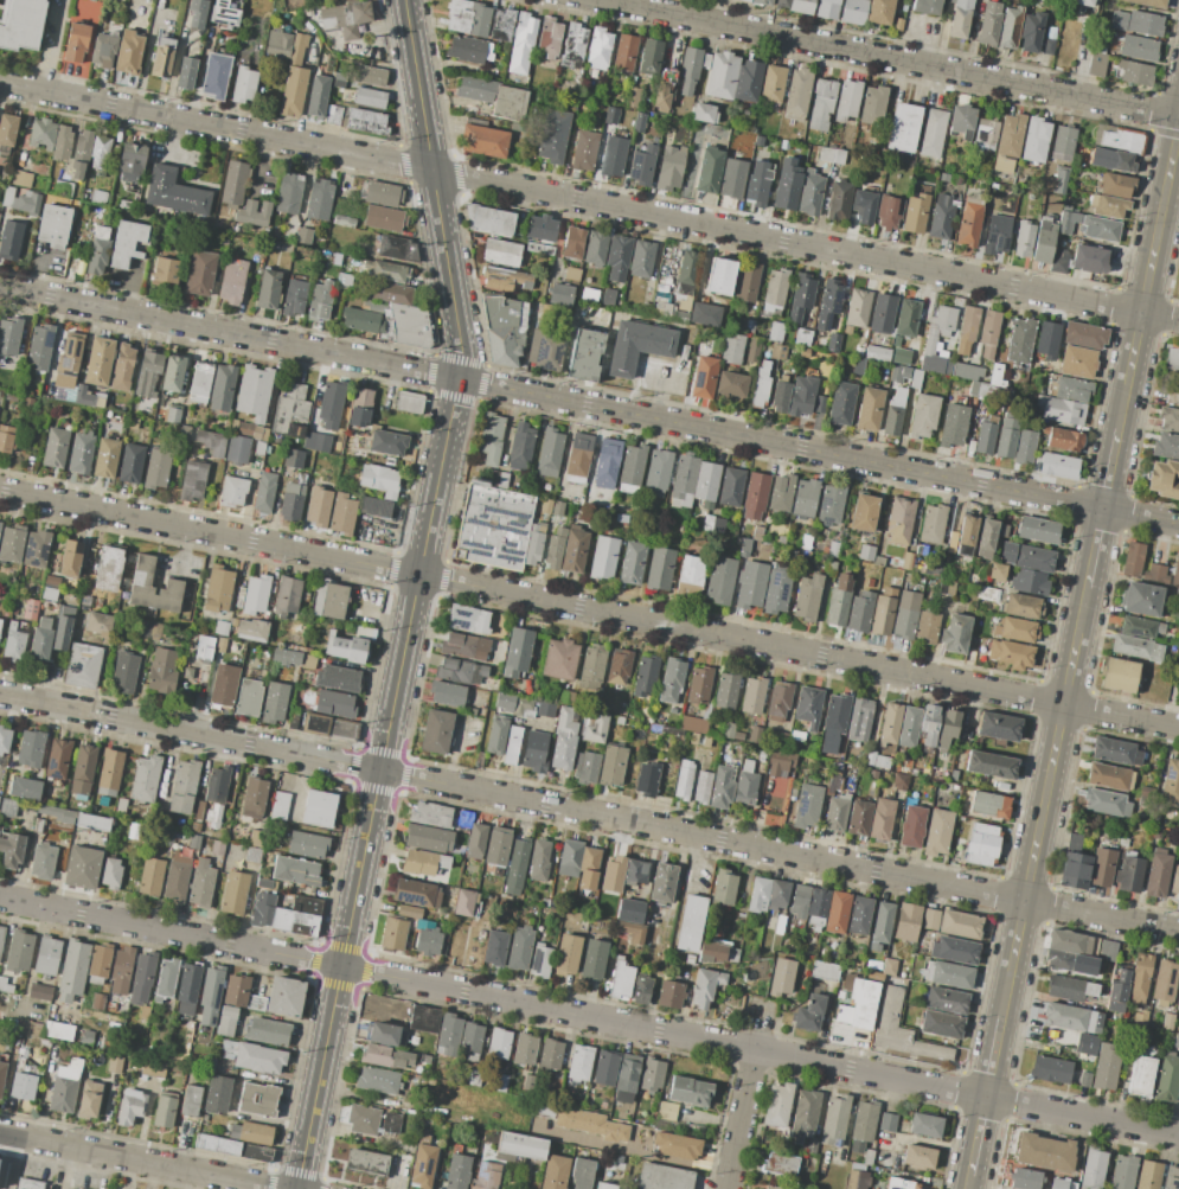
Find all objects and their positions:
building: (121, 0)
building: (951, 0)
building: (744, 1)
building: (763, 1)
building: (782, 2)
building: (1083, 2)
building: (1147, 2)
building: (802, 6)
building: (925, 6)
building: (827, 9)
building: (853, 11)
building: (879, 11)
building: (360, 12)
building: (197, 13)
building: (224, 13)
building: (457, 15)
building: (331, 18)
building: (960, 18)
building: (478, 20)
building: (21, 23)
building: (989, 23)
building: (1138, 23)
building: (501, 24)
road: (385, 25)
building: (1010, 26)
building: (1031, 31)
building: (348, 33)
building: (549, 37)
building: (76, 43)
building: (278, 43)
building: (521, 43)
building: (574, 44)
road: (52, 45)
building: (297, 46)
building: (1047, 46)
building: (1139, 47)
building: (598, 49)
building: (469, 50)
building: (104, 51)
road: (143, 52)
building: (624, 52)
building: (129, 53)
building: (162, 57)
building: (649, 57)
road: (893, 58)
building: (705, 59)
building: (1097, 64)
building: (690, 69)
building: (187, 72)
building: (1135, 72)
building: (216, 73)
building: (722, 75)
building: (370, 76)
building: (338, 79)
building: (748, 81)
building: (771, 83)
building: (243, 84)
building: (475, 89)
building: (293, 91)
building: (797, 94)
building: (316, 95)
building: (661, 95)
building: (370, 97)
building: (633, 97)
building: (847, 100)
building: (507, 102)
building: (873, 103)
building: (572, 104)
building: (822, 104)
building: (582, 106)
building: (704, 113)
building: (333, 115)
building: (610, 115)
building: (365, 121)
building: (962, 121)
building: (639, 122)
building: (7, 128)
building: (903, 128)
building: (933, 133)
building: (41, 134)
road: (173, 135)
building: (553, 135)
building: (985, 135)
building: (1011, 135)
building: (1034, 140)
building: (1063, 140)
building: (1121, 140)
building: (483, 141)
building: (60, 143)
building: (584, 151)
building: (81, 152)
building: (101, 154)
building: (825, 154)
building: (613, 155)
building: (839, 156)
building: (1111, 159)
building: (130, 161)
road: (261, 164)
building: (642, 165)
building: (669, 168)
building: (710, 170)
building: (944, 177)
building: (732, 178)
building: (21, 179)
building: (1062, 180)
building: (233, 183)
building: (1116, 185)
building: (787, 186)
building: (63, 188)
building: (757, 190)
building: (172, 192)
building: (810, 192)
building: (289, 193)
building: (380, 193)
building: (98, 194)
building: (8, 197)
building: (319, 200)
road: (589, 200)
building: (839, 200)
building: (27, 204)
building: (126, 204)
building: (864, 205)
building: (1108, 206)
building: (889, 212)
building: (254, 213)
building: (917, 215)
building: (941, 216)
building: (384, 218)
building: (344, 220)
building: (493, 220)
building: (969, 222)
building: (1068, 222)
building: (53, 225)
building: (540, 229)
building: (1101, 229)
building: (997, 234)
building: (303, 235)
building: (1024, 238)
building: (11, 239)
building: (1044, 241)
building: (574, 242)
building: (128, 243)
building: (596, 247)
building: (391, 248)
building: (539, 248)
building: (98, 251)
building: (501, 251)
building: (617, 257)
building: (642, 258)
building: (1089, 258)
building: (1058, 262)
building: (385, 270)
building: (687, 271)
road: (1148, 271)
building: (200, 273)
building: (166, 274)
building: (571, 274)
building: (720, 276)
building: (504, 277)
building: (345, 280)
building: (664, 280)
building: (231, 281)
building: (748, 282)
building: (776, 286)
building: (661, 288)
building: (268, 289)
building: (386, 292)
building: (560, 294)
building: (608, 296)
building: (661, 296)
building: (801, 296)
building: (294, 298)
building: (320, 300)
building: (684, 302)
building: (828, 302)
building: (373, 306)
building: (662, 309)
building: (857, 309)
building: (883, 312)
building: (705, 314)
building: (908, 318)
building: (361, 319)
building: (744, 325)
building: (404, 326)
building: (940, 326)
building: (967, 330)
building: (502, 331)
building: (776, 331)
building: (988, 332)
building: (1084, 334)
building: (14, 337)
building: (802, 337)
building: (1047, 339)
building: (1019, 340)
building: (834, 341)
building: (897, 341)
building: (637, 345)
building: (39, 347)
building: (732, 349)
building: (544, 350)
building: (754, 350)
building: (778, 352)
building: (805, 352)
building: (877, 353)
building: (585, 354)
building: (902, 356)
building: (70, 357)
building: (1172, 359)
building: (98, 362)
building: (858, 362)
building: (1077, 363)
building: (936, 364)
building: (122, 367)
building: (967, 371)
building: (148, 372)
building: (173, 372)
building: (897, 373)
road: (661, 375)
building: (704, 377)
building: (916, 378)
building: (200, 382)
building: (731, 384)
building: (761, 384)
building: (222, 388)
building: (1072, 389)
building: (254, 391)
building: (802, 395)
building: (1173, 395)
road: (655, 396)
building: (780, 396)
building: (88, 397)
building: (28, 402)
building: (409, 402)
building: (819, 403)
building: (841, 403)
building: (41, 404)
building: (331, 404)
road: (589, 405)
building: (359, 407)
building: (869, 409)
building: (1061, 410)
building: (290, 411)
building: (895, 413)
building: (173, 415)
building: (923, 415)
building: (1168, 418)
building: (956, 422)
building: (133, 423)
building: (233, 427)
building: (250, 430)
building: (986, 434)
building: (264, 435)
building: (6, 437)
building: (489, 437)
building: (1006, 437)
building: (1064, 440)
building: (521, 441)
building: (211, 442)
building: (316, 442)
building: (386, 442)
building: (1025, 446)
building: (1166, 446)
building: (56, 447)
building: (259, 448)
building: (237, 449)
building: (81, 452)
building: (550, 453)
building: (107, 458)
building: (578, 458)
building: (293, 459)
building: (130, 462)
building: (607, 464)
building: (632, 465)
building: (1058, 465)
building: (158, 468)
road: (1109, 468)
building: (658, 472)
building: (684, 475)
building: (502, 479)
building: (1164, 479)
building: (193, 480)
building: (379, 480)
building: (706, 482)
building: (731, 486)
building: (232, 491)
building: (264, 492)
building: (781, 492)
building: (755, 494)
building: (805, 498)
building: (293, 501)
building: (831, 504)
building: (318, 506)
building: (545, 506)
building: (374, 507)
building: (558, 509)
building: (863, 512)
building: (342, 513)
building: (622, 518)
building: (901, 519)
building: (707, 522)
building: (0, 524)
building: (933, 524)
building: (718, 525)
building: (494, 526)
building: (1038, 530)
building: (757, 532)
building: (966, 535)
building: (986, 538)
building: (806, 542)
building: (12, 543)
building: (534, 544)
building: (745, 544)
building: (553, 548)
road: (1095, 548)
building: (36, 549)
building: (832, 549)
building: (574, 551)
road: (181, 552)
building: (866, 552)
building: (603, 557)
building: (1027, 557)
building: (70, 558)
building: (908, 561)
building: (632, 563)
building: (1148, 565)
building: (108, 568)
building: (659, 568)
building: (935, 568)
building: (997, 571)
building: (690, 575)
building: (720, 580)
building: (51, 581)
building: (1030, 582)
building: (174, 583)
building: (751, 584)
building: (947, 587)
building: (218, 589)
building: (776, 592)
building: (985, 593)
building: (49, 594)
building: (256, 594)
building: (306, 594)
road: (416, 595)
building: (286, 596)
building: (807, 597)
building: (329, 599)
building: (1143, 599)
road: (363, 600)
building: (838, 601)
building: (1023, 606)
building: (31, 609)
road: (589, 609)
building: (860, 611)
building: (883, 612)
building: (905, 614)
road: (379, 616)
building: (468, 620)
building: (0, 621)
building: (232, 621)
building: (98, 624)
building: (1136, 626)
building: (62, 627)
building: (220, 627)
building: (928, 627)
building: (145, 628)
building: (251, 629)
building: (1015, 629)
building: (155, 631)
building: (955, 633)
building: (1178, 639)
building: (41, 640)
building: (14, 641)
building: (464, 646)
building: (205, 647)
building: (1138, 647)
building: (346, 648)
building: (517, 651)
building: (1010, 653)
building: (286, 657)
building: (559, 659)
building: (307, 661)
building: (82, 665)
building: (591, 666)
building: (619, 667)
building: (162, 671)
building: (460, 671)
building: (124, 672)
building: (1120, 675)
building: (645, 676)
building: (338, 678)
building: (671, 679)
building: (699, 685)
building: (223, 686)
building: (725, 691)
building: (447, 693)
building: (752, 696)
building: (248, 697)
building: (274, 702)
building: (505, 702)
building: (778, 702)
building: (334, 703)
building: (521, 704)
building: (808, 707)
building: (546, 709)
building: (859, 718)
building: (834, 722)
building: (691, 723)
building: (890, 723)
building: (929, 723)
building: (909, 725)
building: (329, 727)
building: (999, 727)
building: (596, 728)
building: (947, 728)
building: (728, 730)
building: (436, 731)
building: (755, 735)
building: (496, 736)
building: (4, 739)
building: (564, 739)
building: (701, 740)
building: (513, 746)
building: (30, 749)
building: (534, 749)
building: (1116, 752)
road: (453, 754)
building: (870, 757)
building: (57, 759)
building: (780, 761)
building: (882, 762)
building: (991, 765)
building: (585, 766)
building: (613, 766)
building: (83, 769)
building: (109, 772)
building: (872, 774)
building: (1110, 776)
building: (146, 778)
building: (833, 779)
building: (683, 780)
building: (647, 781)
building: (899, 781)
building: (1171, 782)
building: (217, 784)
building: (745, 785)
building: (184, 786)
building: (722, 786)
building: (701, 787)
building: (25, 788)
building: (255, 797)
building: (102, 800)
road: (1045, 801)
building: (1107, 803)
building: (121, 805)
building: (807, 805)
building: (989, 805)
building: (278, 806)
building: (8, 807)
building: (319, 808)
building: (198, 811)
building: (835, 812)
building: (57, 813)
road: (589, 813)
building: (430, 814)
building: (213, 816)
building: (859, 817)
building: (882, 818)
building: (464, 819)
building: (92, 822)
building: (38, 823)
building: (912, 826)
building: (196, 827)
building: (133, 831)
building: (937, 831)
building: (1155, 833)
building: (256, 838)
building: (428, 838)
building: (168, 839)
building: (475, 840)
building: (194, 842)
building: (1074, 842)
building: (307, 844)
building: (498, 845)
building: (982, 845)
building: (218, 848)
building: (12, 850)
building: (252, 855)
building: (570, 857)
building: (539, 859)
building: (43, 862)
building: (424, 863)
road: (692, 863)
building: (517, 867)
building: (588, 867)
building: (1102, 867)
building: (82, 868)
building: (1075, 870)
building: (295, 871)
building: (635, 871)
building: (111, 872)
building: (611, 874)
building: (1129, 874)
building: (1158, 874)
building: (152, 876)
building: (177, 880)
building: (1175, 880)
building: (201, 883)
building: (267, 883)
building: (662, 883)
road: (673, 888)
building: (723, 888)
building: (233, 893)
building: (414, 893)
building: (757, 893)
building: (777, 894)
building: (800, 901)
building: (463, 903)
building: (818, 907)
building: (262, 909)
building: (409, 910)
building: (630, 910)
building: (838, 912)
building: (299, 915)
building: (859, 915)
building: (930, 919)
building: (575, 920)
building: (906, 921)
building: (691, 922)
building: (960, 923)
building: (780, 925)
building: (882, 925)
building: (630, 931)
building: (1, 934)
building: (393, 934)
building: (428, 941)
building: (1069, 941)
building: (495, 947)
building: (520, 948)
building: (1106, 948)
building: (954, 950)
building: (19, 951)
building: (711, 952)
building: (566, 954)
building: (46, 955)
road: (32, 958)
building: (594, 958)
building: (540, 960)
building: (1064, 961)
building: (100, 963)
building: (1096, 964)
building: (888, 966)
building: (72, 970)
building: (121, 970)
building: (825, 971)
building: (949, 974)
building: (142, 976)
building: (781, 977)
building: (621, 978)
building: (166, 979)
building: (1140, 979)
building: (1164, 983)
building: (5, 985)
building: (187, 987)
building: (705, 987)
building: (1069, 987)
building: (641, 989)
building: (237, 990)
building: (39, 991)
building: (1117, 991)
building: (671, 993)
building: (210, 995)
building: (286, 997)
building: (1178, 999)
building: (947, 1001)
building: (97, 1002)
building: (863, 1002)
building: (256, 1004)
building: (110, 1006)
building: (145, 1011)
building: (810, 1012)
road: (589, 1016)
building: (1068, 1017)
building: (1140, 1017)
building: (424, 1019)
building: (226, 1021)
building: (1167, 1022)
building: (942, 1024)
building: (1178, 1025)
building: (26, 1028)
building: (901, 1029)
building: (58, 1030)
building: (268, 1031)
building: (383, 1034)
building: (449, 1034)
building: (86, 1037)
building: (472, 1040)
building: (1175, 1041)
building: (499, 1043)
building: (7, 1044)
building: (1087, 1044)
building: (424, 1047)
building: (524, 1048)
building: (228, 1049)
building: (23, 1051)
building: (551, 1054)
building: (386, 1056)
road: (995, 1056)
building: (258, 1057)
building: (424, 1059)
building: (579, 1062)
building: (115, 1063)
building: (20, 1065)
building: (147, 1066)
building: (1106, 1066)
building: (605, 1067)
building: (25, 1068)
building: (1050, 1069)
building: (628, 1072)
building: (2, 1074)
building: (652, 1075)
building: (1141, 1075)
road: (987, 1078)
building: (1166, 1079)
building: (377, 1080)
building: (498, 1081)
building: (528, 1082)
building: (23, 1086)
building: (64, 1086)
road: (957, 1089)
building: (690, 1091)
building: (217, 1093)
building: (88, 1099)
building: (258, 1099)
road: (748, 1099)
building: (191, 1100)
road: (1010, 1101)
building: (777, 1105)
building: (129, 1107)
building: (543, 1107)
building: (165, 1110)
building: (666, 1111)
road: (978, 1113)
building: (805, 1114)
building: (364, 1119)
building: (834, 1119)
building: (888, 1121)
building: (391, 1123)
building: (591, 1124)
building: (863, 1125)
building: (925, 1125)
building: (251, 1132)
road: (980, 1137)
building: (205, 1142)
road: (927, 1145)
building: (228, 1146)
building: (679, 1146)
building: (519, 1148)
road: (630, 1149)
building: (256, 1152)
building: (1044, 1152)
building: (920, 1157)
road: (139, 1159)
road: (7, 1162)
building: (367, 1163)
building: (780, 1164)
building: (423, 1165)
road: (68, 1168)
building: (1093, 1169)
road: (397, 1170)
building: (457, 1172)
building: (556, 1172)
building: (582, 1172)
building: (1122, 1172)
building: (1149, 1175)
building: (486, 1176)
building: (664, 1177)
building: (1025, 1178)
building: (1171, 1178)
building: (857, 1180)
road: (969, 1182)
building: (27, 1183)
building: (897, 1183)
building: (1057, 1183)
building: (605, 1185)
building: (76, 1188)
building: (773, 1188)

